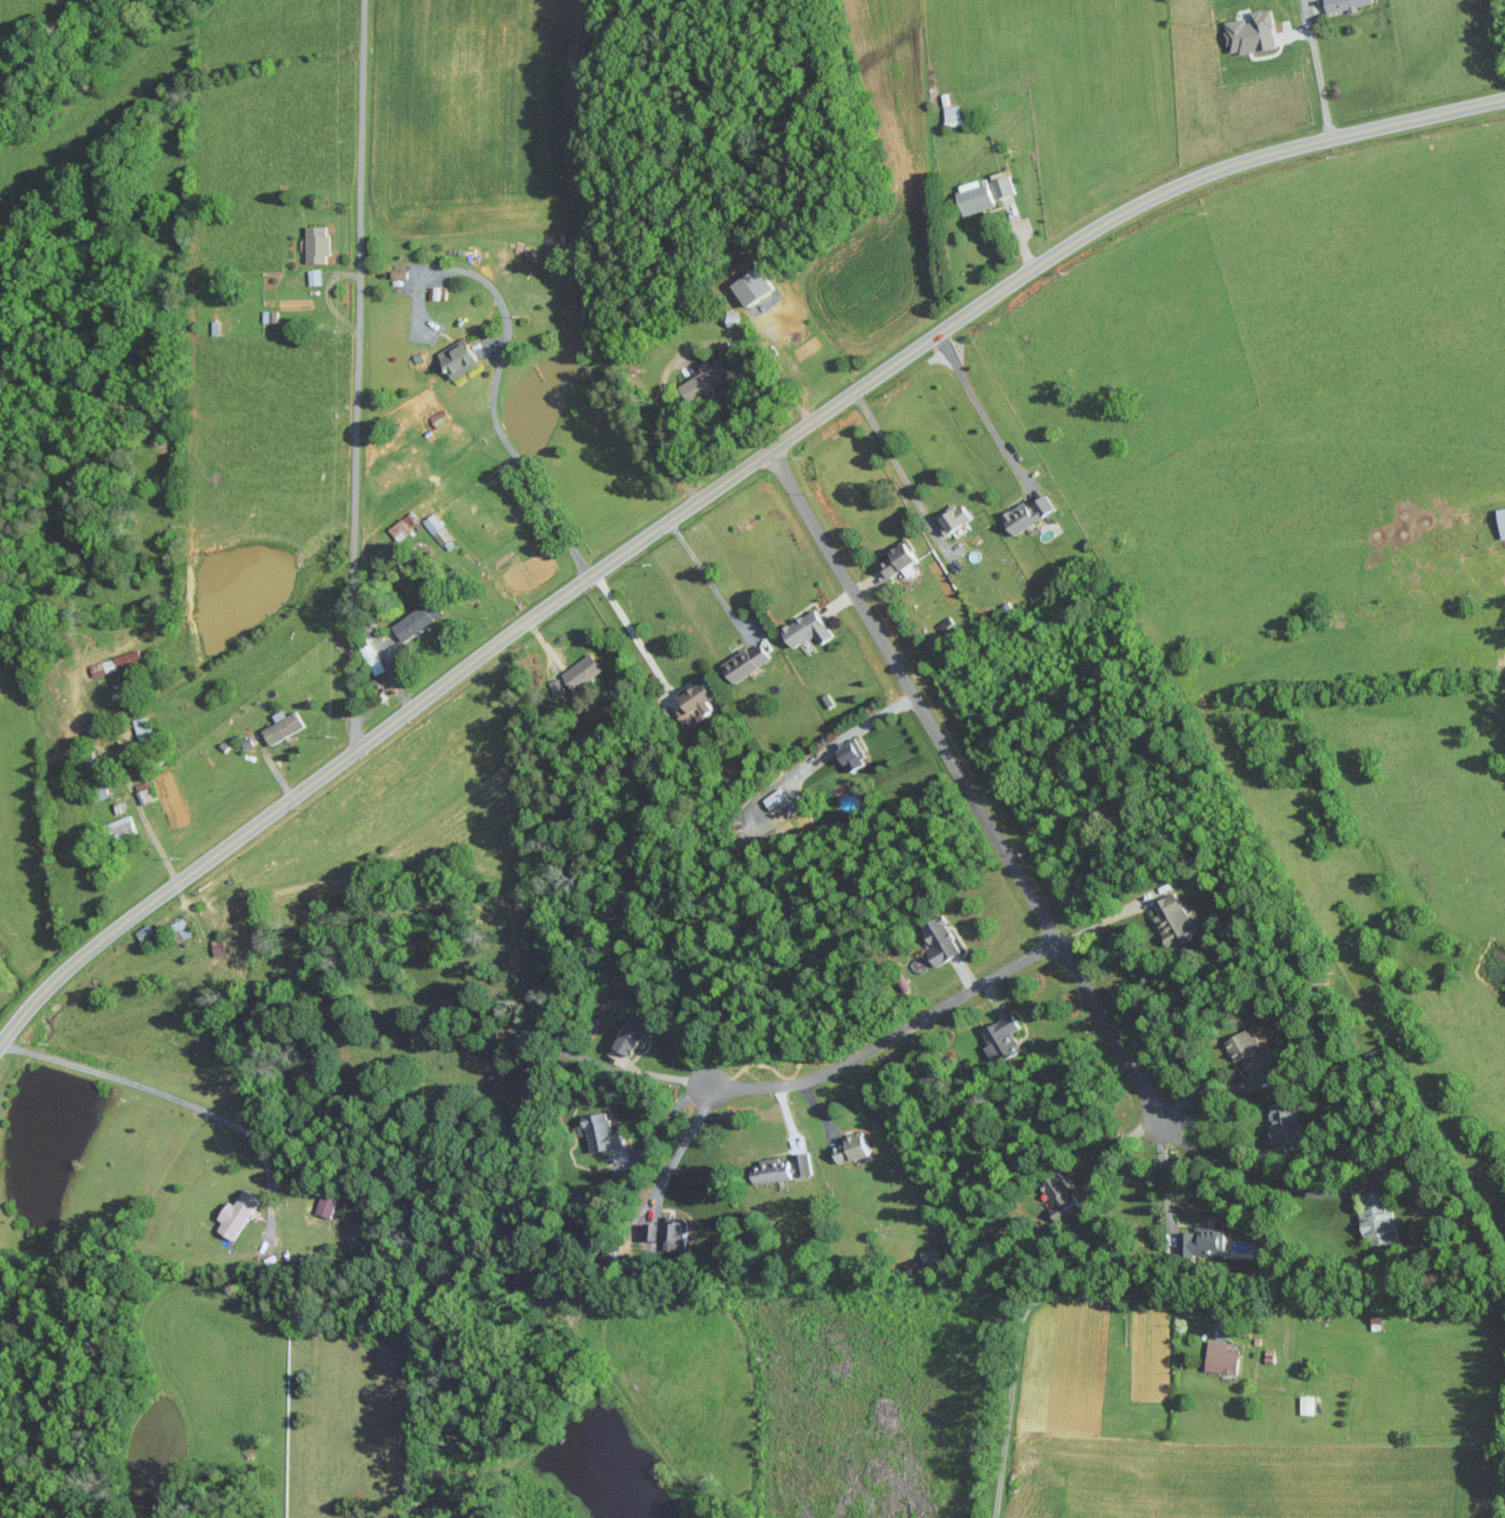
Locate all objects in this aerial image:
building: (1347, 5)
building: (1251, 33)
road: (1315, 68)
building: (1002, 184)
building: (976, 196)
building: (317, 242)
building: (314, 276)
building: (753, 285)
building: (434, 292)
road: (686, 351)
building: (459, 357)
road: (340, 376)
building: (707, 378)
road: (493, 382)
road: (982, 410)
building: (439, 417)
road: (900, 461)
road: (707, 492)
building: (1028, 513)
building: (954, 516)
building: (1502, 520)
building: (402, 526)
building: (438, 530)
building: (901, 558)
road: (710, 577)
road: (491, 590)
building: (418, 618)
road: (634, 627)
building: (808, 628)
building: (374, 659)
building: (747, 661)
building: (115, 663)
building: (582, 671)
building: (556, 685)
building: (698, 702)
building: (283, 726)
building: (143, 728)
road: (850, 733)
building: (852, 754)
road: (970, 784)
building: (145, 792)
building: (775, 798)
building: (123, 826)
building: (1176, 919)
road: (1104, 920)
building: (179, 930)
building: (145, 931)
building: (941, 940)
building: (218, 946)
building: (634, 1037)
building: (1002, 1039)
road: (882, 1040)
building: (1248, 1050)
road: (1204, 1090)
road: (162, 1095)
building: (1285, 1120)
road: (659, 1128)
building: (603, 1133)
road: (1218, 1133)
road: (683, 1141)
building: (853, 1148)
road: (1123, 1150)
building: (783, 1168)
road: (1162, 1173)
road: (1256, 1177)
building: (1062, 1197)
building: (325, 1205)
building: (238, 1214)
building: (1378, 1220)
building: (669, 1232)
building: (1203, 1241)
building: (932, 1254)
road: (1023, 1310)
building: (1222, 1358)
building: (1307, 1405)

